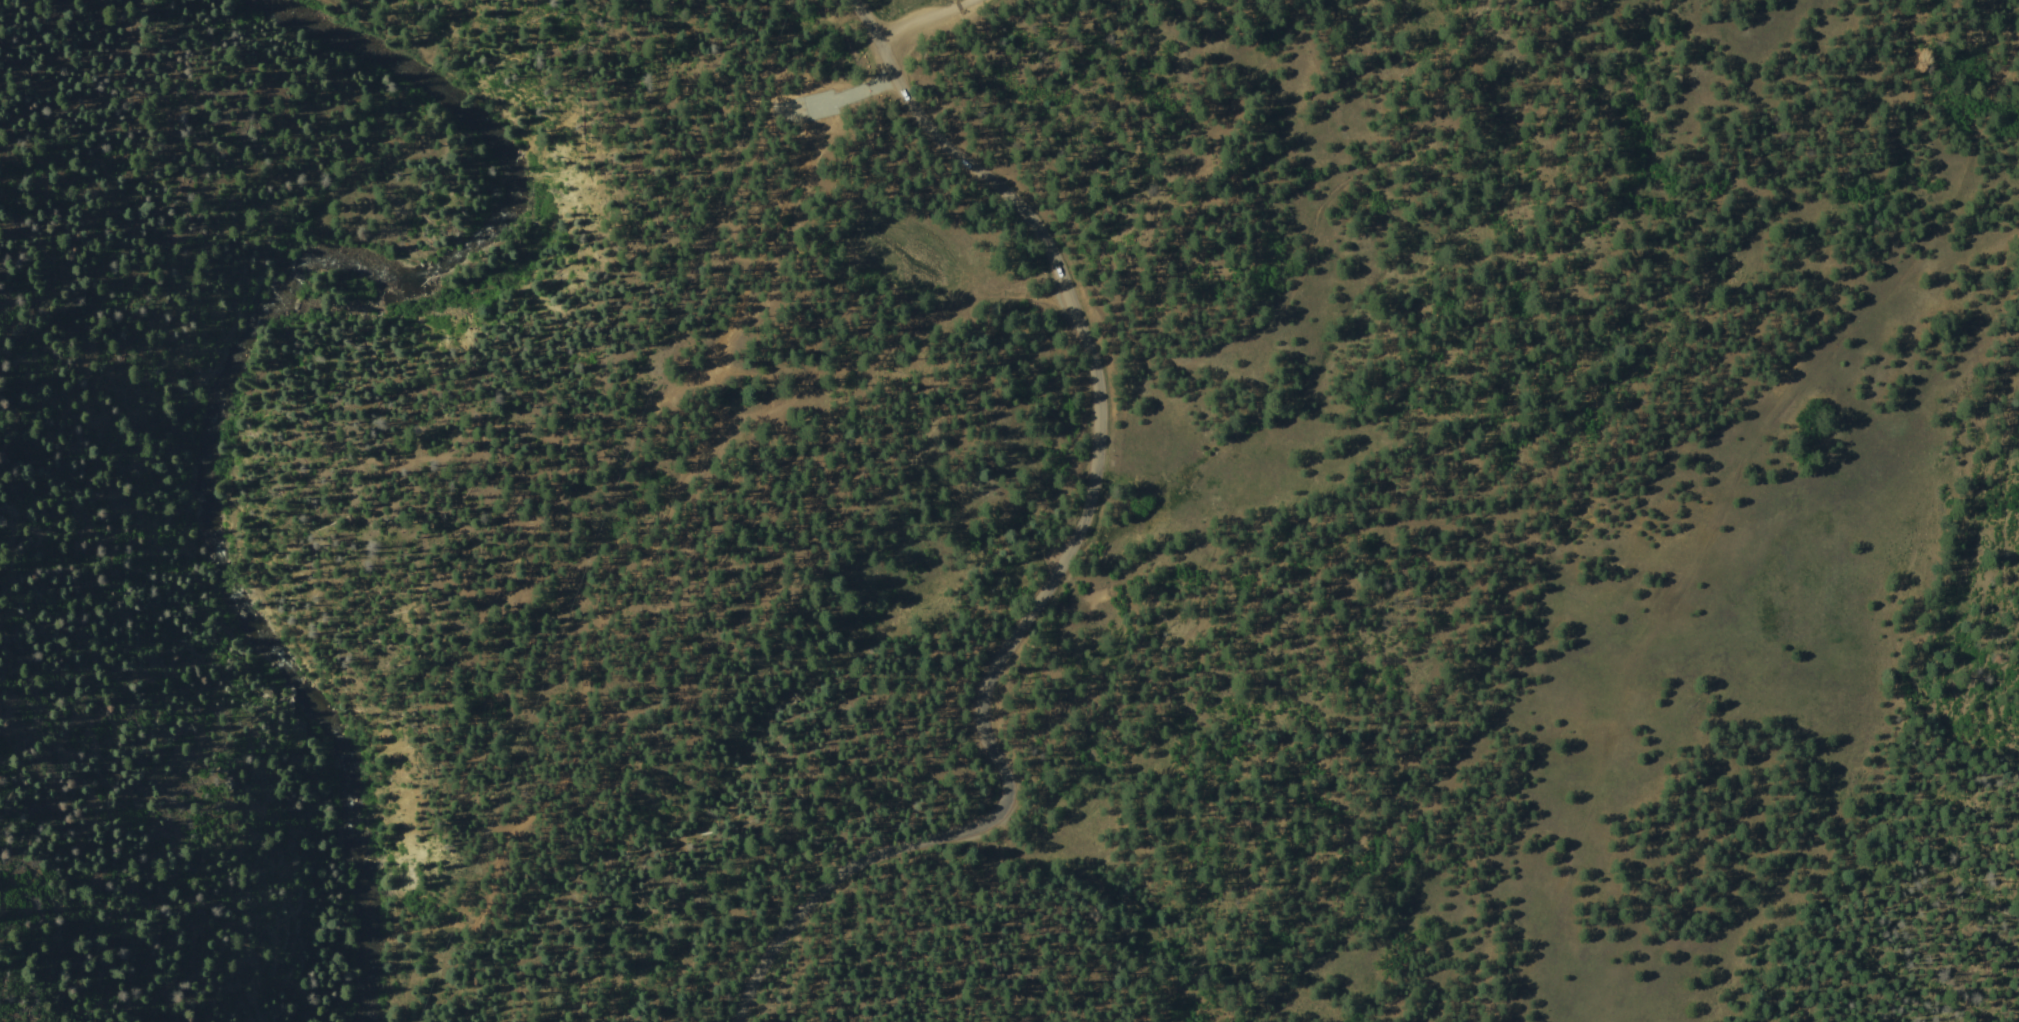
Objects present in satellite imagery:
road: (918, 19)
road: (864, 54)
river: (218, 362)
road: (1065, 559)
park: (1075, 801)

